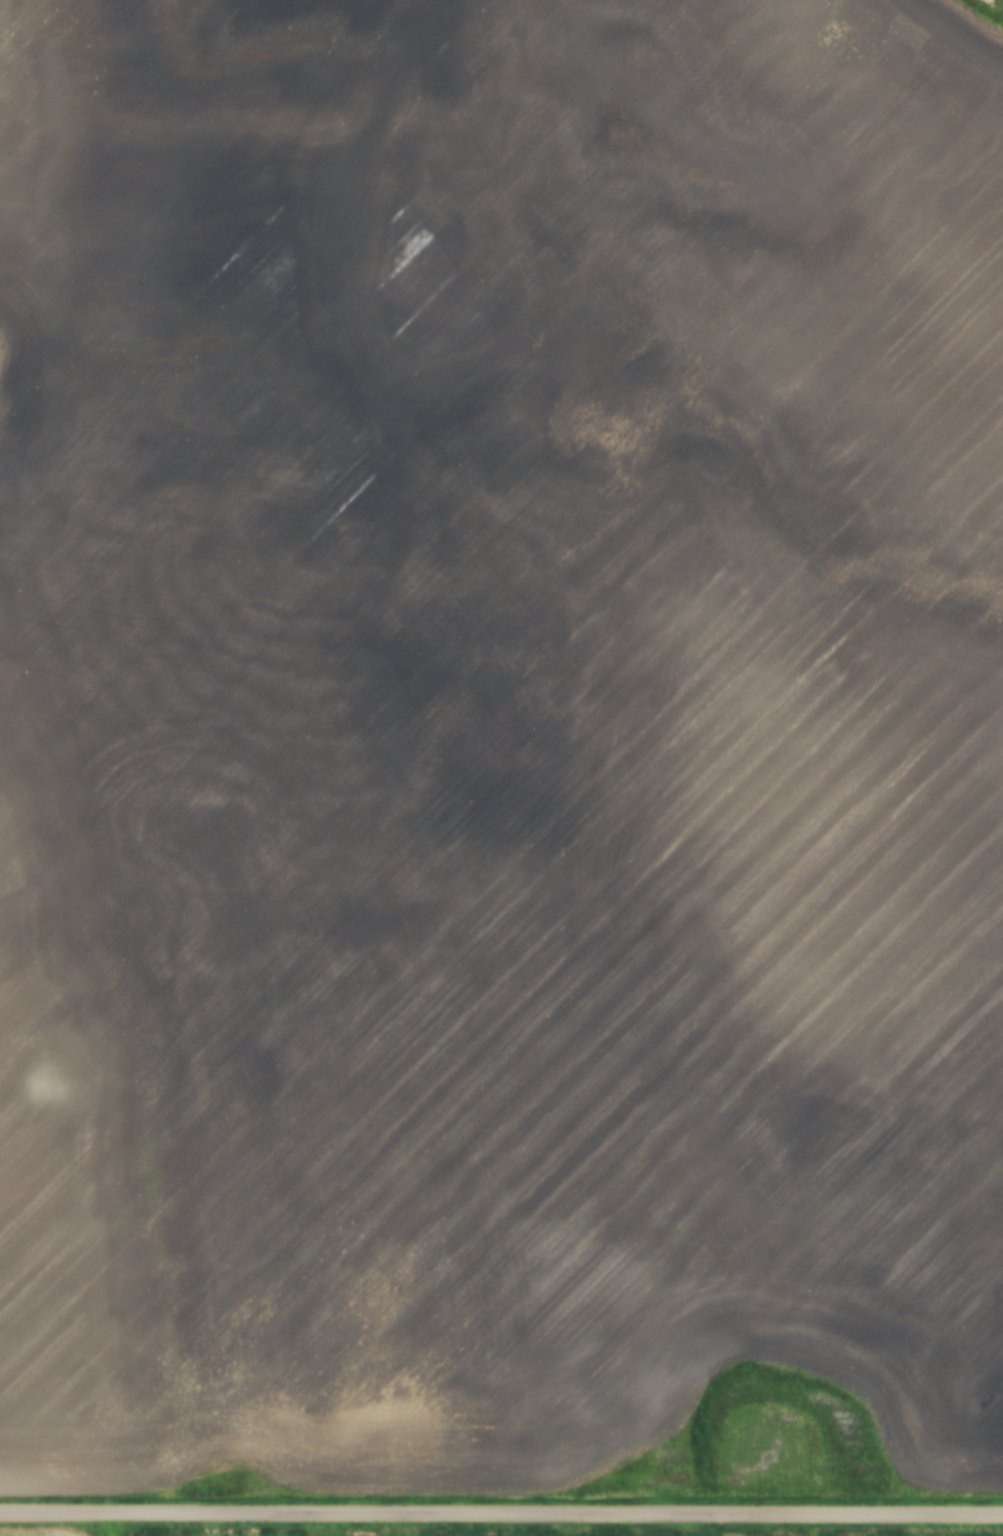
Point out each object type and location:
road: (501, 1511)

